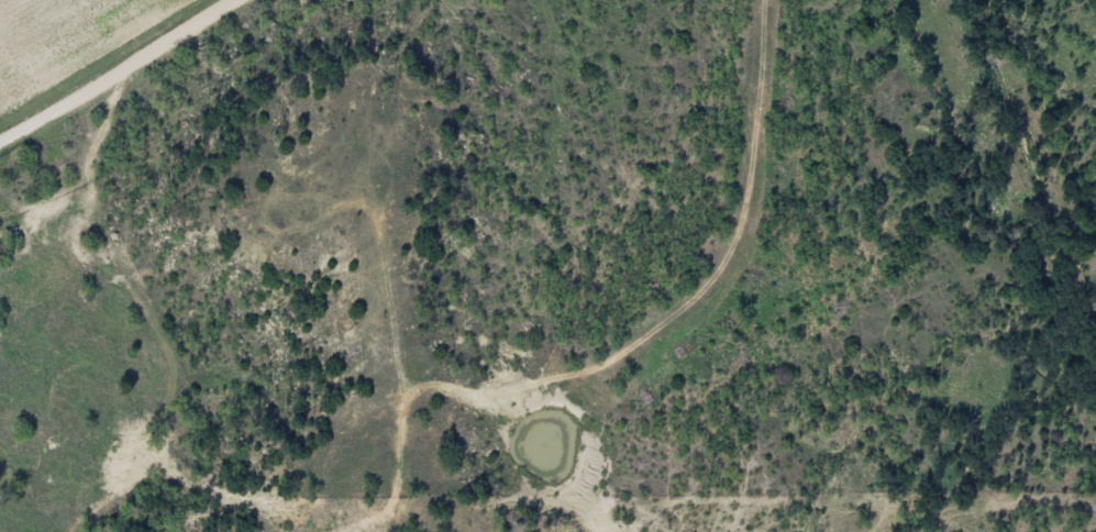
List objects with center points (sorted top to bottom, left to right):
road: (135, 76)

